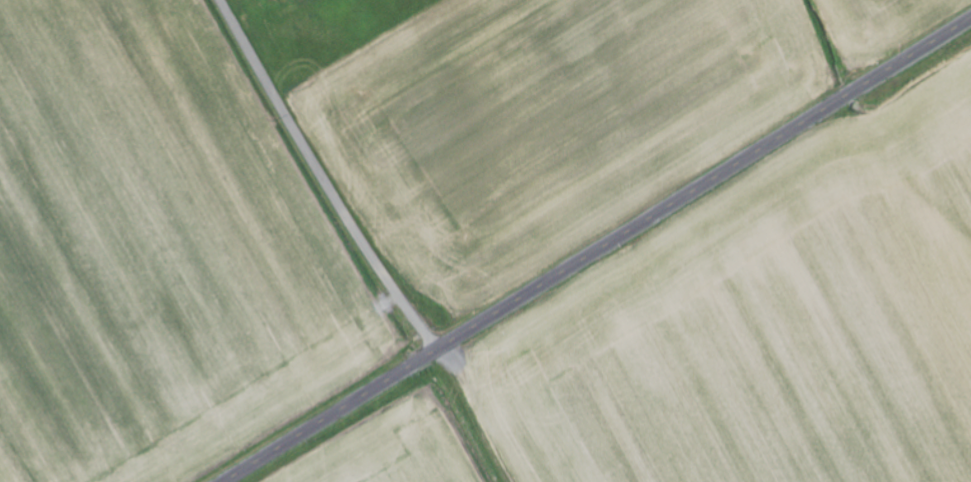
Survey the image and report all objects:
road: (324, 177)
road: (598, 250)

